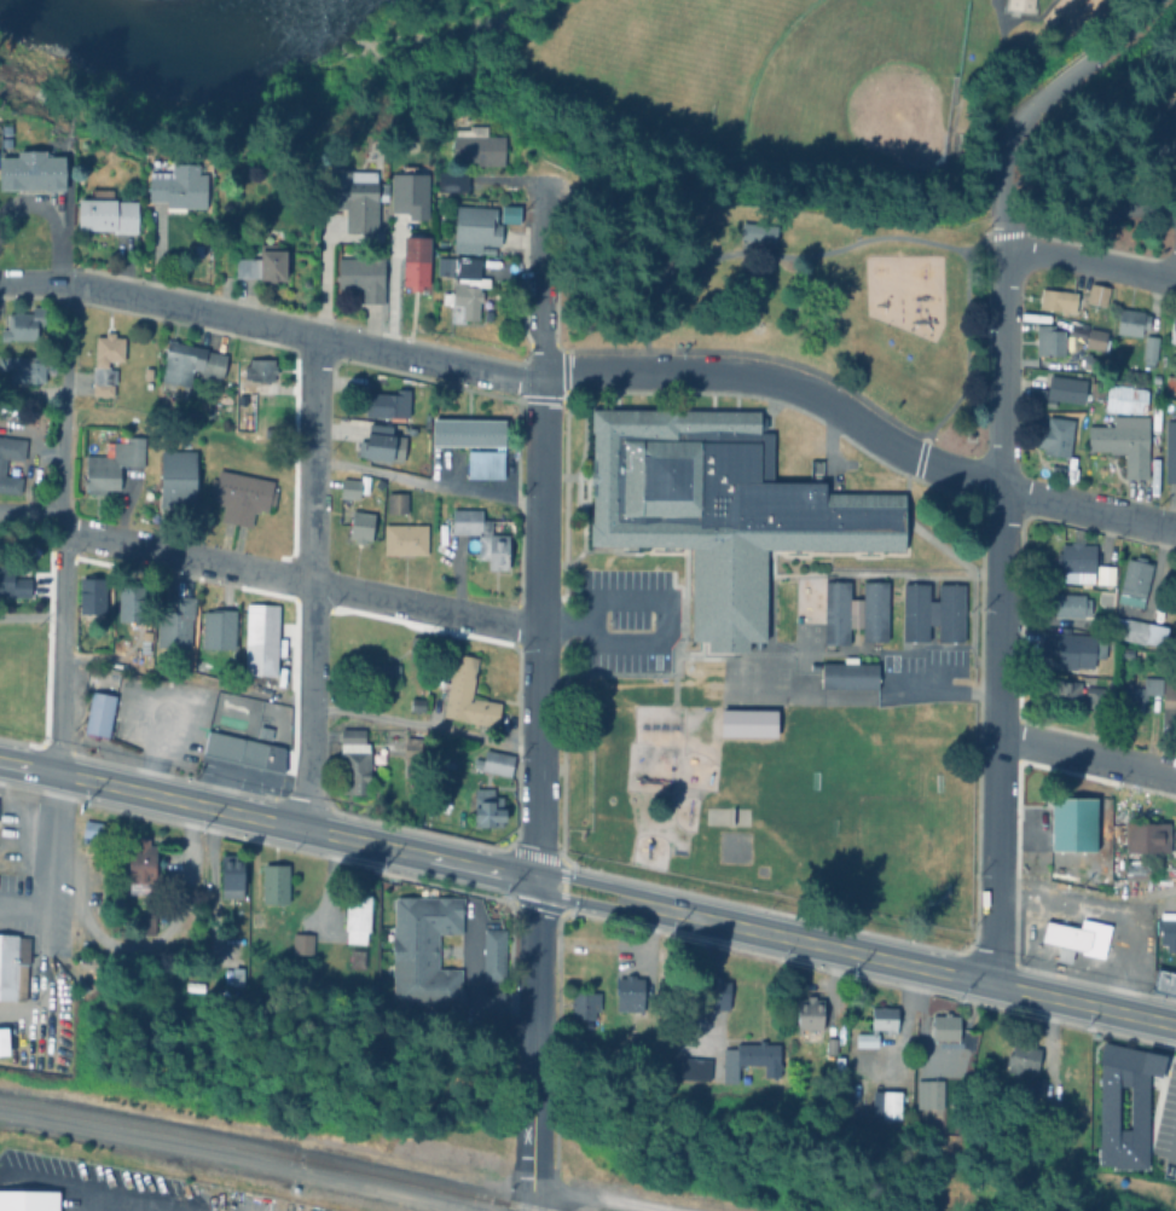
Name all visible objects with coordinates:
building: (1019, 5)
river: (170, 60)
park: (857, 83)
road: (1166, 111)
building: (477, 146)
building: (31, 170)
park: (853, 174)
building: (452, 181)
building: (178, 187)
road: (1166, 191)
building: (409, 193)
building: (355, 197)
road: (1003, 208)
building: (106, 213)
building: (476, 228)
building: (759, 234)
road: (783, 255)
road: (1089, 260)
building: (417, 262)
building: (263, 265)
building: (363, 276)
building: (465, 286)
building: (1094, 291)
building: (1055, 297)
building: (1128, 318)
building: (22, 324)
building: (1171, 328)
building: (1073, 329)
building: (1093, 337)
building: (1047, 338)
building: (1146, 348)
building: (105, 359)
building: (189, 363)
building: (24, 364)
building: (260, 366)
road: (509, 377)
building: (1168, 382)
building: (1062, 386)
building: (1093, 386)
building: (1122, 393)
building: (388, 400)
road: (64, 404)
building: (1151, 413)
building: (469, 428)
building: (1052, 434)
building: (1120, 439)
building: (382, 440)
building: (1169, 448)
building: (486, 460)
building: (109, 462)
building: (1, 464)
building: (1054, 467)
building: (176, 475)
road: (425, 481)
building: (349, 485)
building: (241, 493)
building: (396, 499)
road: (1088, 506)
road: (30, 511)
building: (717, 511)
building: (360, 523)
road: (539, 531)
building: (481, 533)
building: (405, 535)
building: (1072, 555)
building: (13, 578)
building: (1105, 579)
building: (1130, 579)
road: (311, 581)
road: (297, 583)
building: (92, 591)
building: (132, 601)
building: (1065, 602)
building: (868, 613)
building: (909, 613)
building: (943, 613)
building: (829, 614)
road: (29, 616)
building: (175, 620)
parking lot: (620, 622)
building: (219, 626)
building: (1141, 630)
building: (260, 636)
road: (662, 642)
building: (416, 644)
building: (1068, 645)
parking lot: (921, 661)
building: (378, 670)
building: (845, 677)
building: (1137, 688)
building: (1059, 690)
road: (943, 691)
building: (468, 694)
building: (1094, 694)
building: (1166, 700)
building: (416, 701)
building: (98, 712)
road: (53, 718)
building: (263, 725)
road: (997, 734)
building: (410, 742)
building: (243, 748)
road: (1058, 751)
building: (353, 759)
building: (497, 760)
road: (1147, 770)
building: (487, 806)
building: (1067, 822)
park: (876, 834)
building: (1143, 835)
building: (94, 839)
building: (141, 859)
building: (1134, 867)
building: (232, 873)
building: (274, 881)
road: (587, 891)
building: (357, 915)
building: (256, 916)
building: (143, 921)
building: (1165, 927)
building: (1073, 934)
road: (145, 941)
building: (302, 941)
building: (424, 949)
building: (493, 952)
building: (11, 960)
building: (237, 973)
building: (1163, 978)
building: (713, 987)
building: (626, 990)
building: (585, 1002)
building: (807, 1009)
building: (874, 1021)
building: (943, 1022)
building: (828, 1042)
road: (533, 1045)
building: (1019, 1053)
building: (751, 1055)
building: (689, 1065)
building: (1035, 1082)
building: (927, 1090)
building: (882, 1100)
building: (1106, 1107)
railway: (271, 1152)
road: (601, 1196)
building: (28, 1199)
road: (137, 1207)

